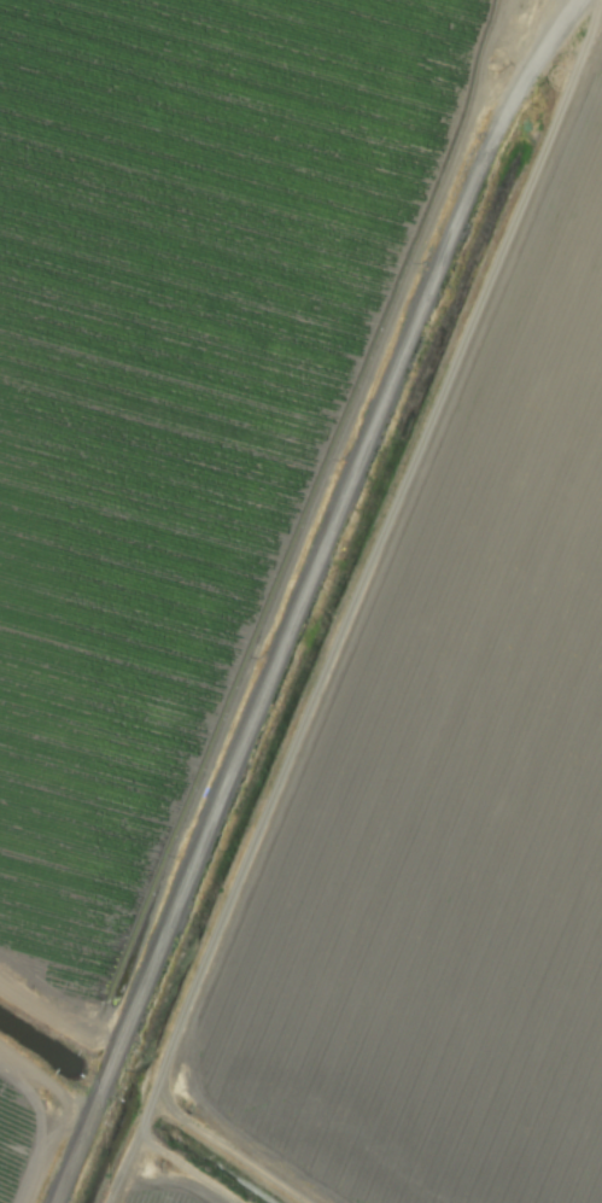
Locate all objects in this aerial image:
road: (311, 595)
crop: (300, 601)

